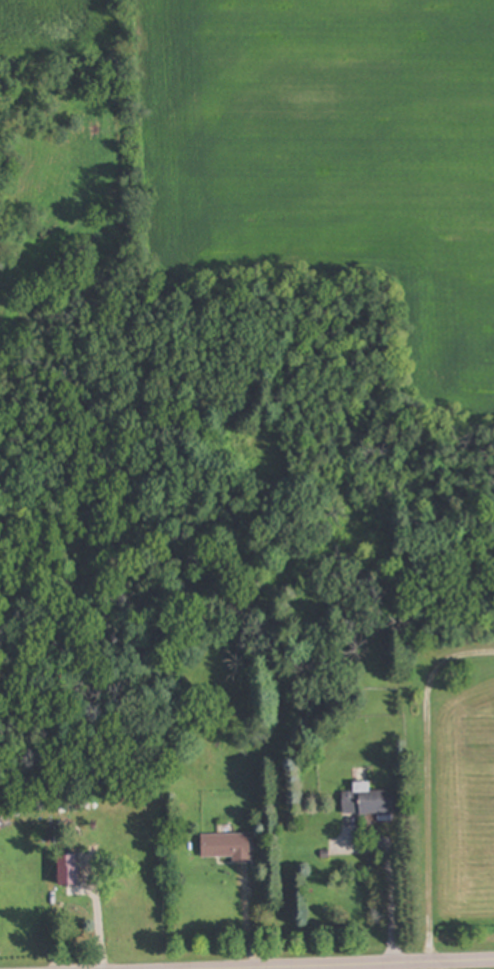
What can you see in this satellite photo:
building: (313, 577)
road: (428, 784)
building: (370, 802)
building: (227, 847)
building: (69, 871)
road: (391, 887)
road: (310, 964)

